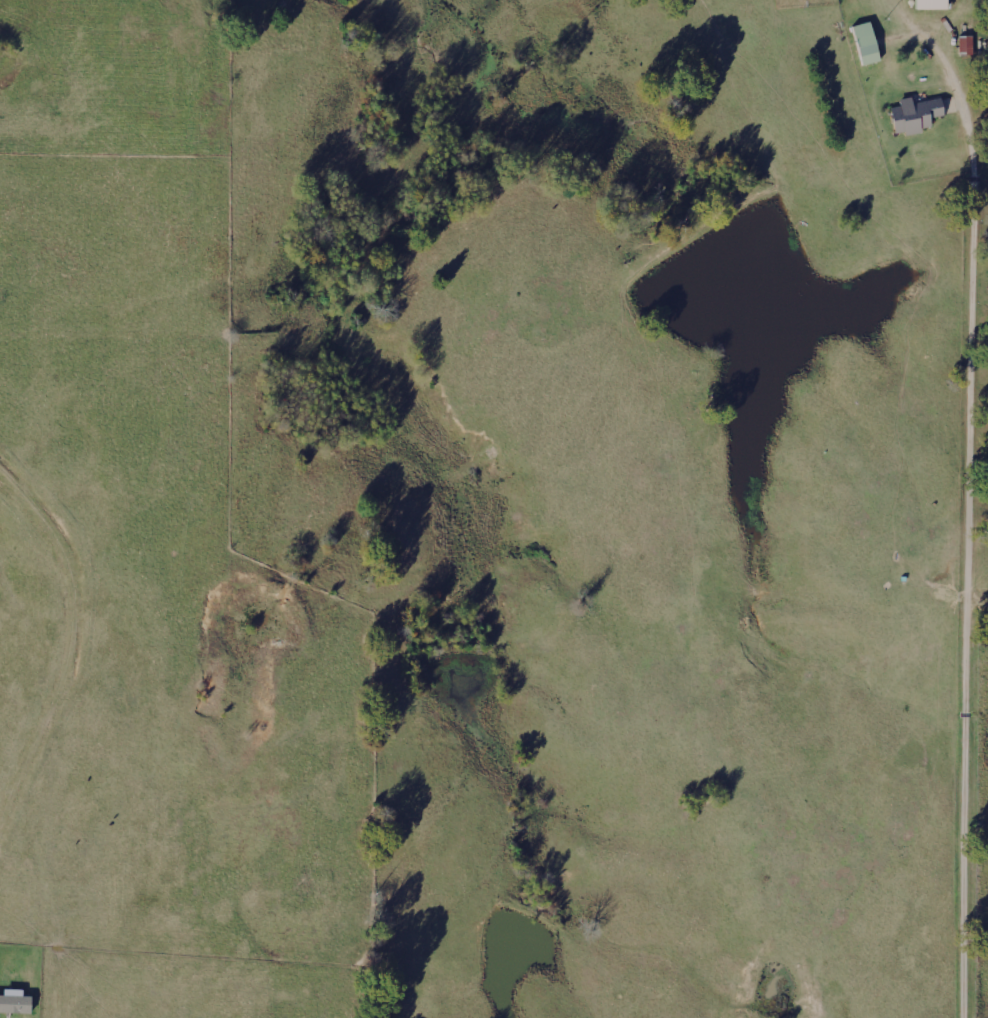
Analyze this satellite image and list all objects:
building: (933, 4)
building: (867, 42)
building: (917, 114)
building: (16, 1003)

